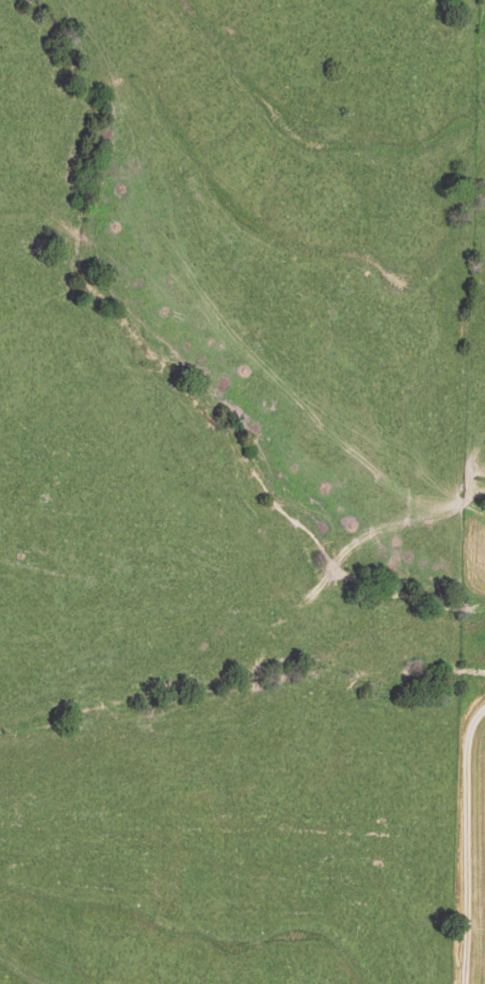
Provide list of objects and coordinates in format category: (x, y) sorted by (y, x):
road: (462, 835)

